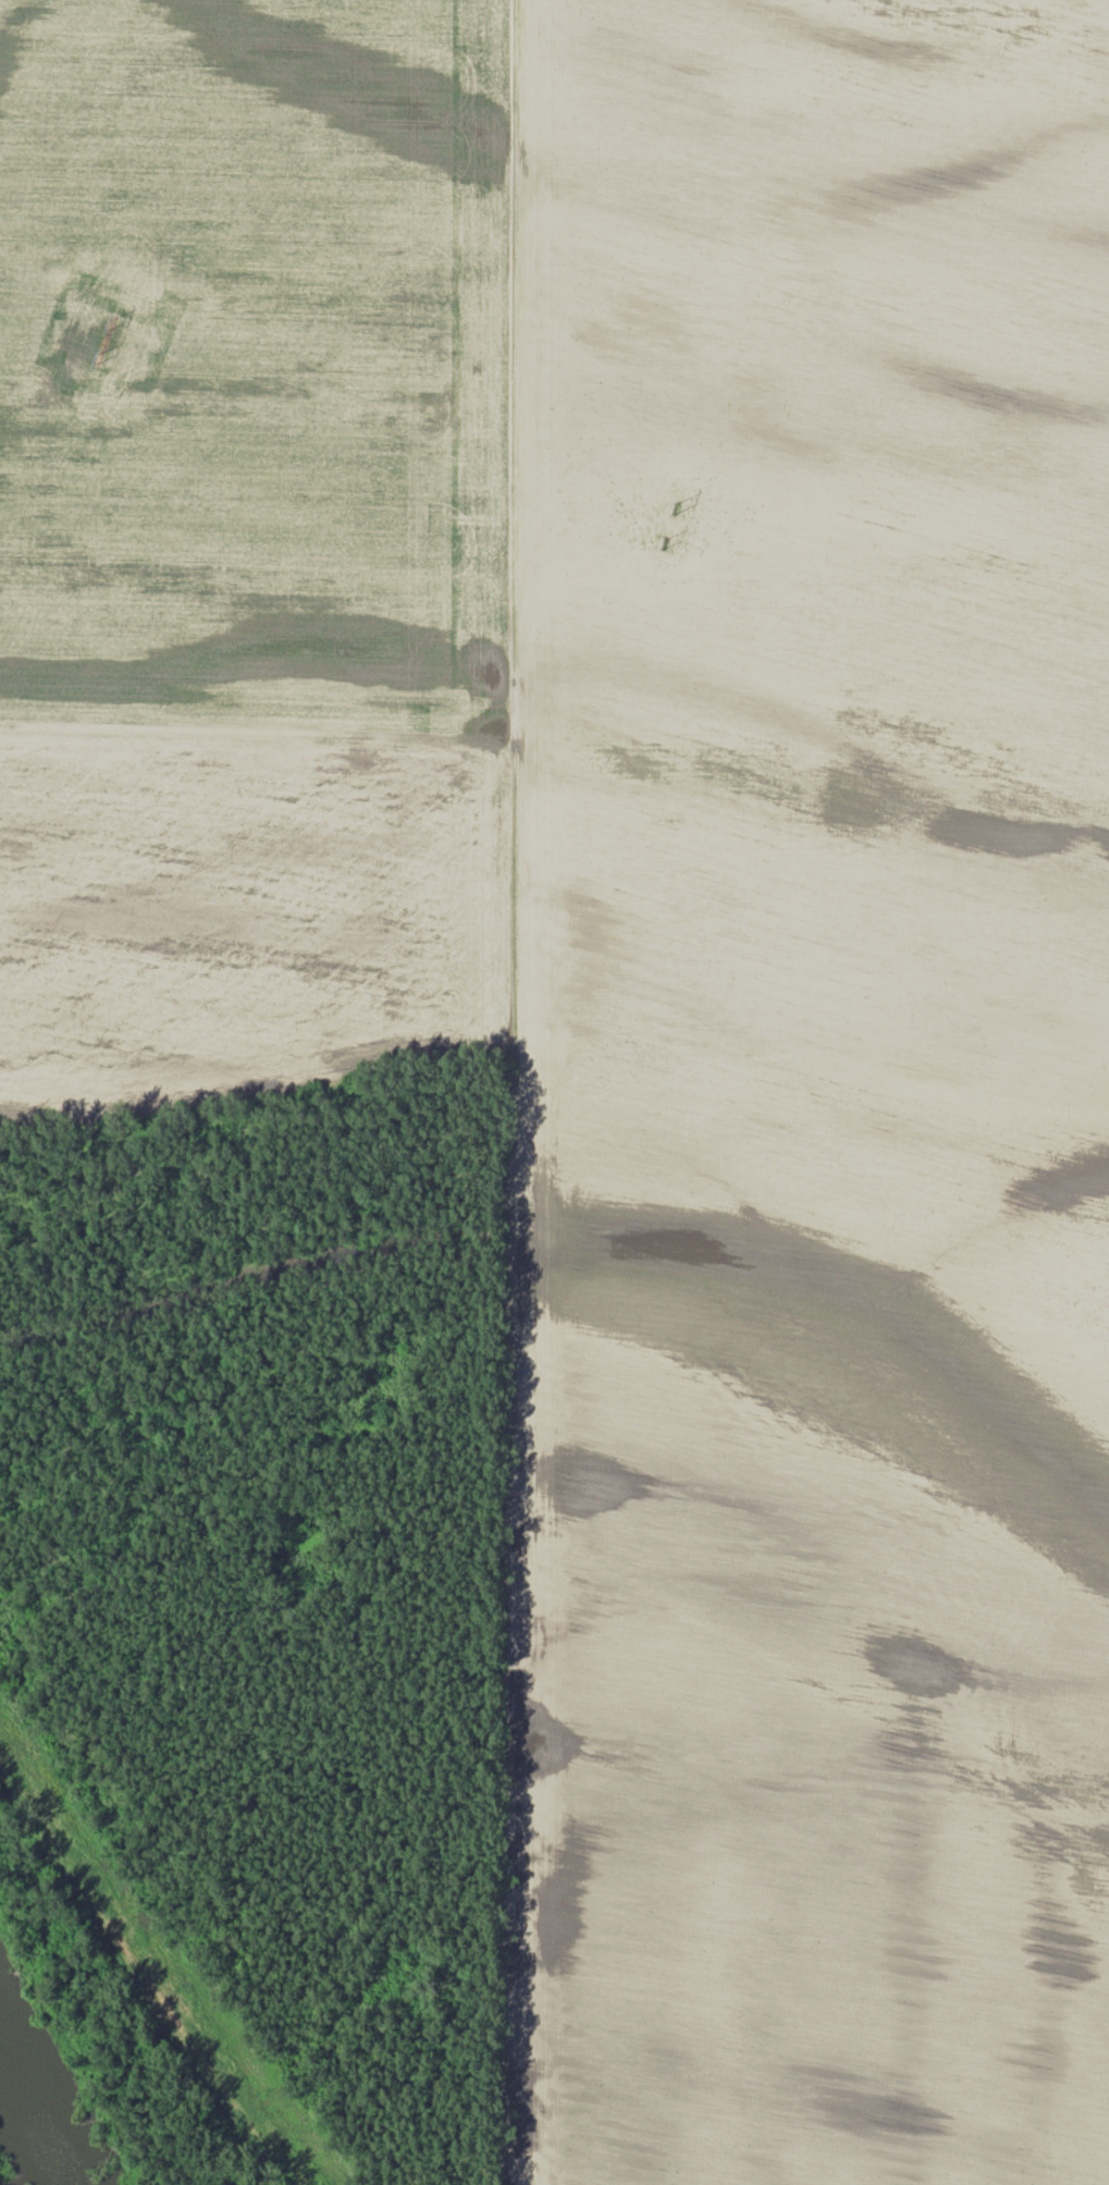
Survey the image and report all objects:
power tower: (111, 323)
power tower: (676, 511)
crop: (248, 549)
road: (512, 1092)

